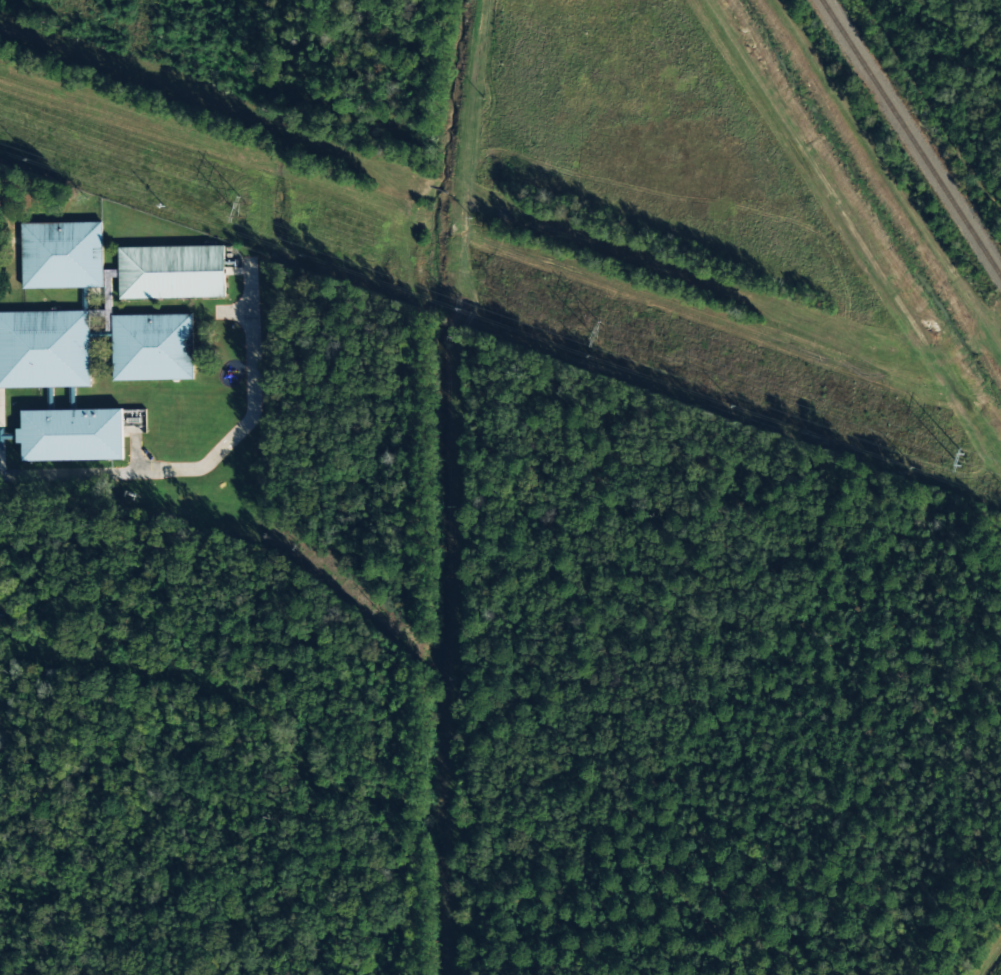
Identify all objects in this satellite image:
railway: (910, 139)
building: (62, 255)
building: (171, 272)
power tower: (602, 335)
building: (152, 347)
building: (44, 349)
building: (72, 435)
power tower: (967, 465)

